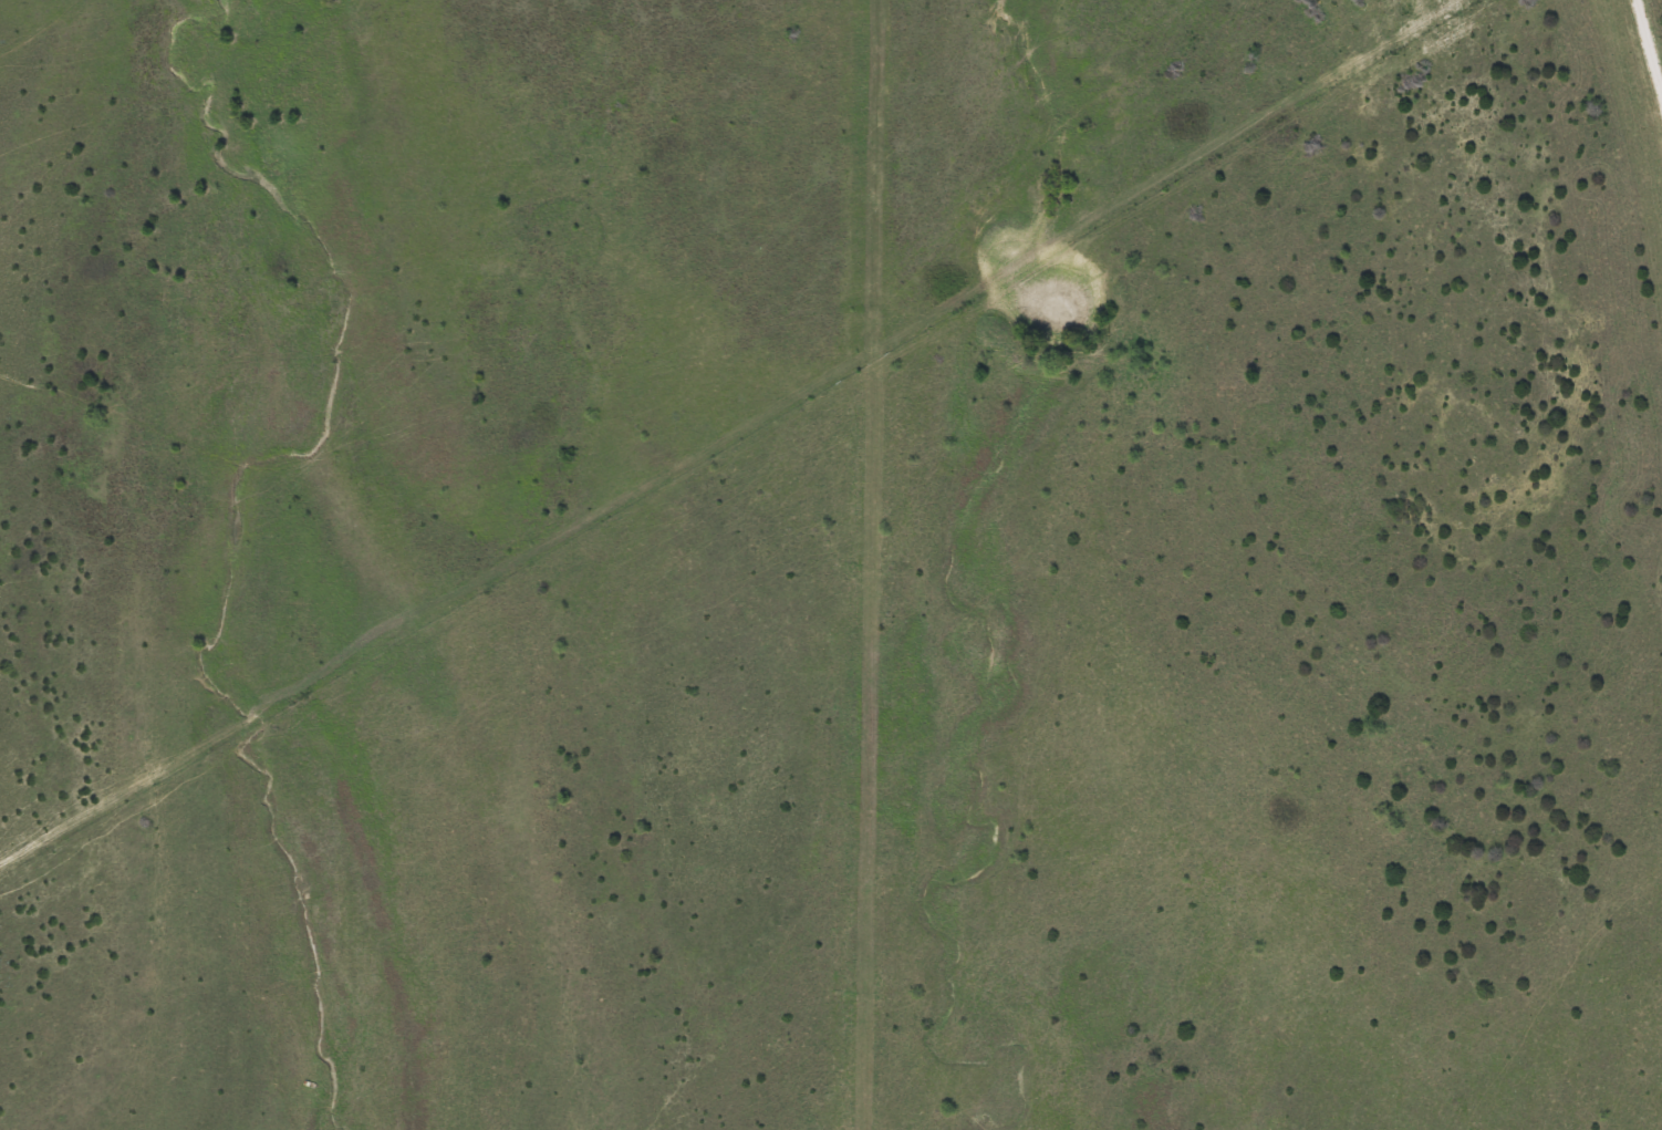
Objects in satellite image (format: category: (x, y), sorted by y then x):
road: (1648, 50)

